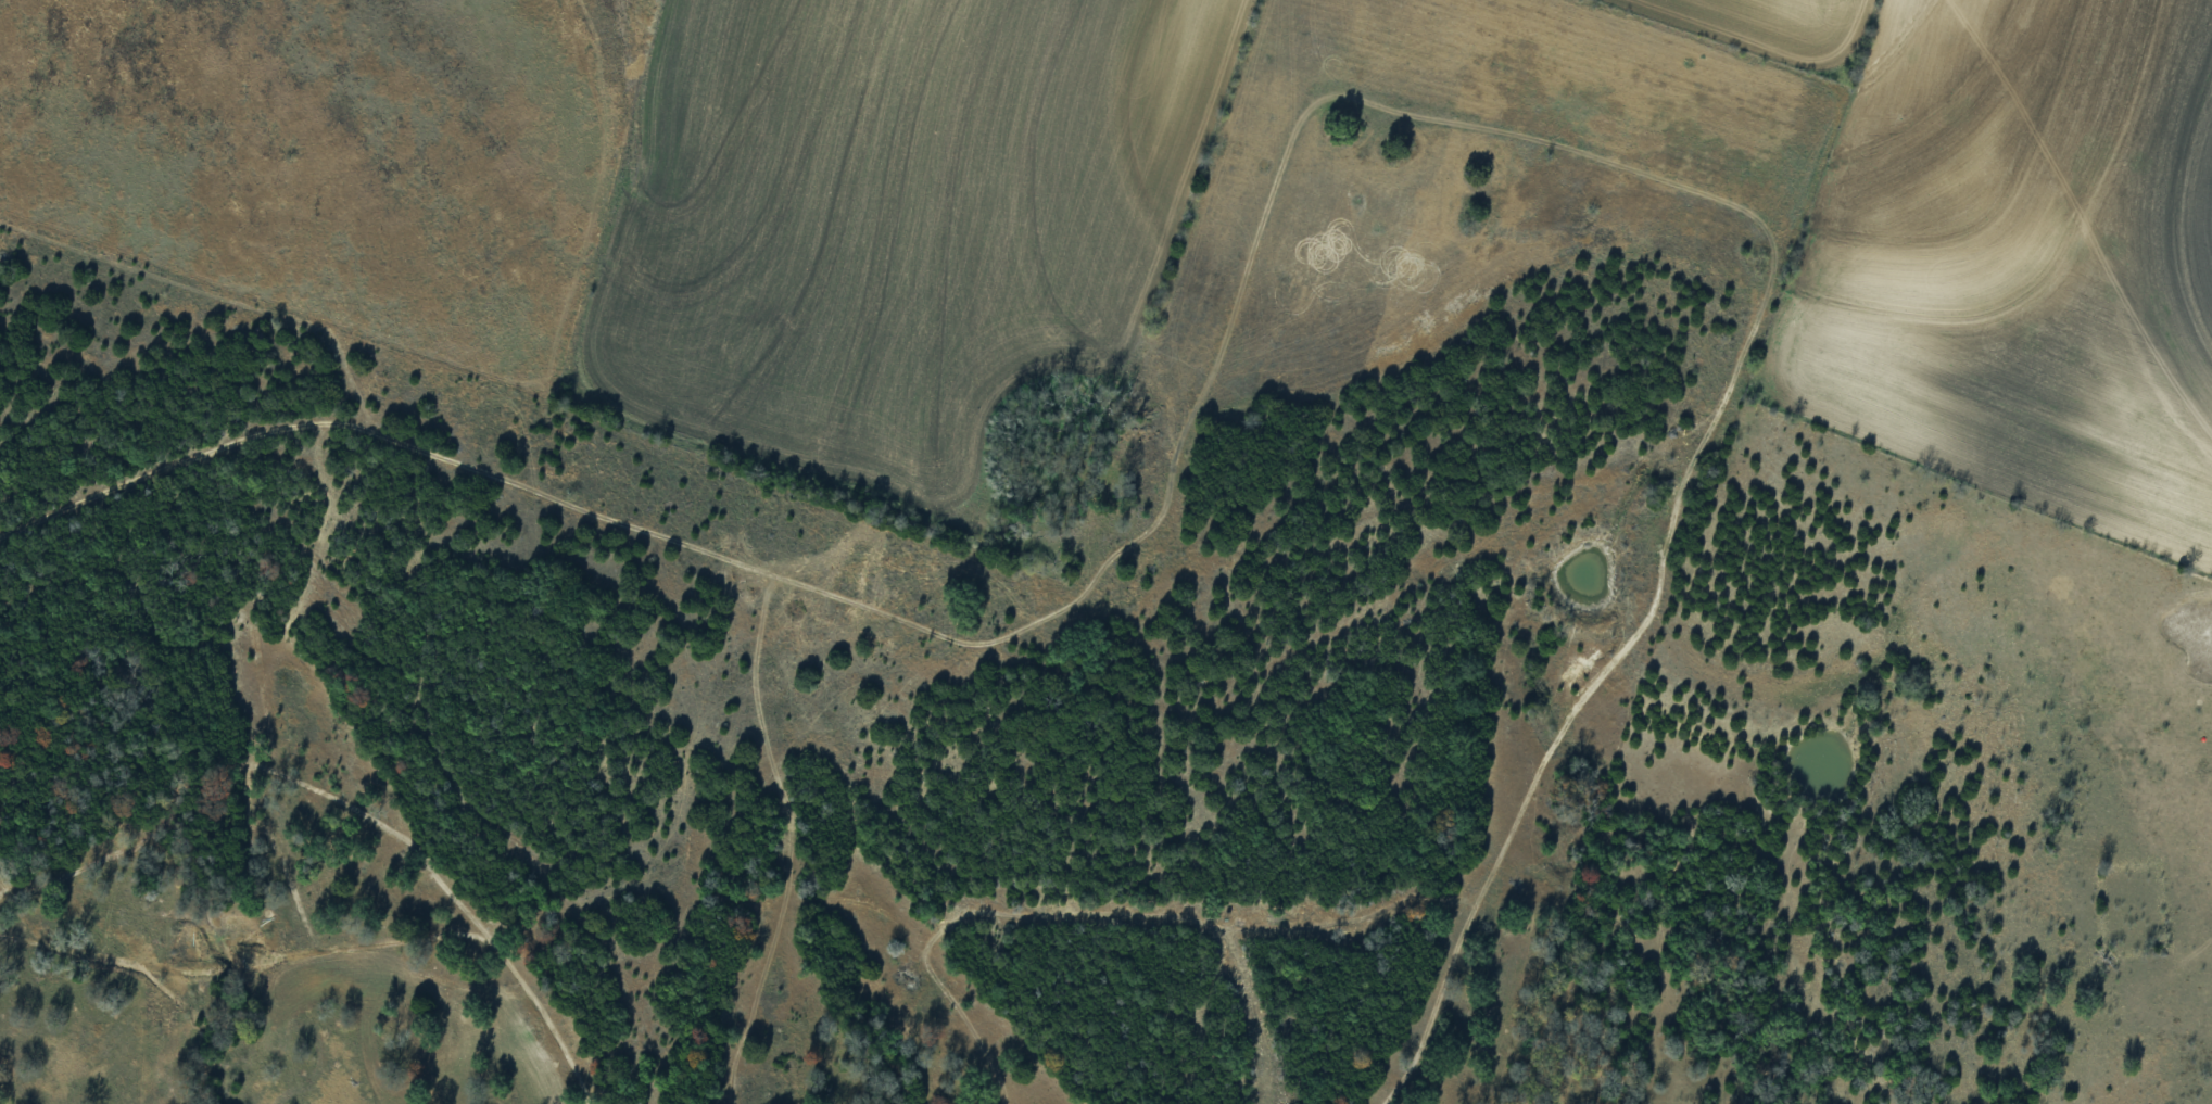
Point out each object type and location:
road: (2103, 217)

